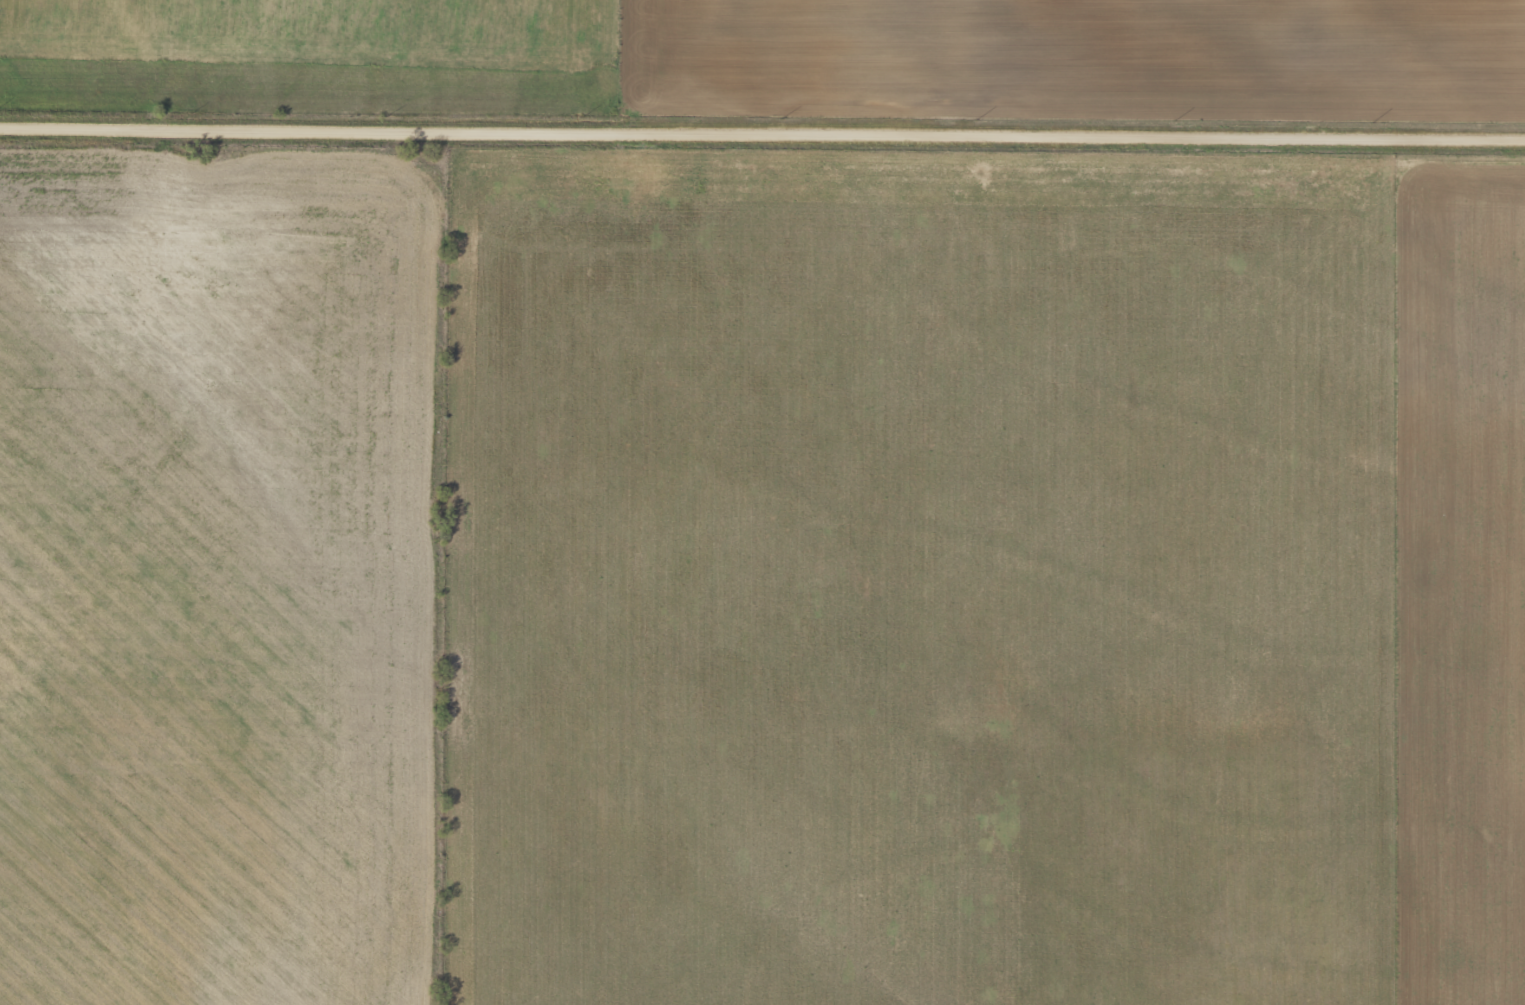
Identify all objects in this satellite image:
road: (762, 163)

